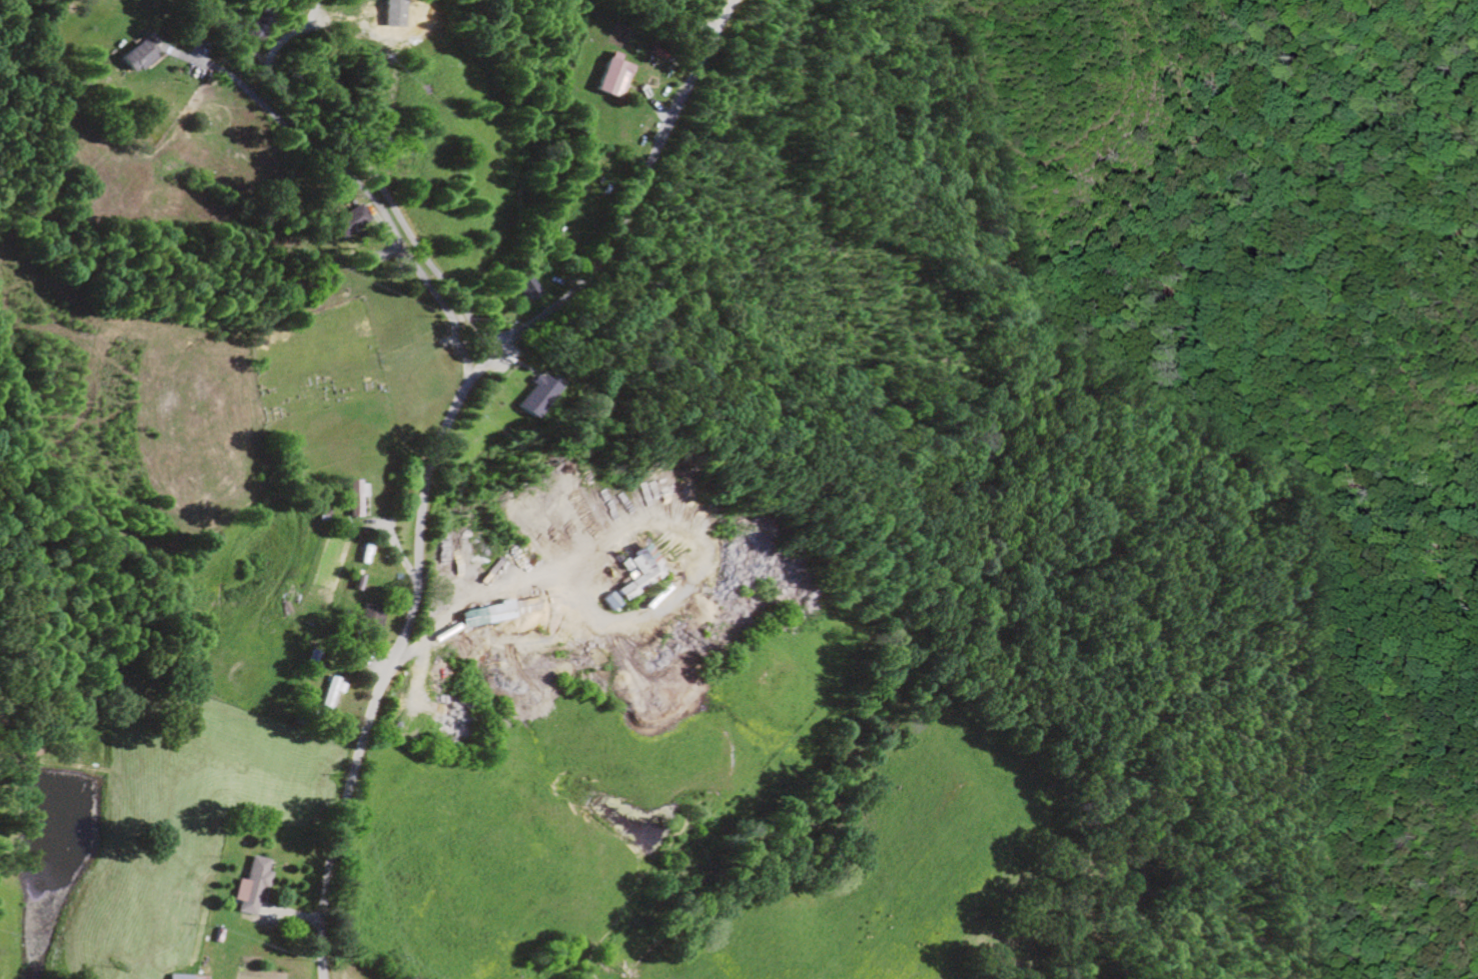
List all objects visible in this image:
building: (390, 15)
building: (136, 56)
building: (611, 76)
road: (389, 206)
building: (348, 222)
building: (524, 288)
building: (527, 397)
road: (432, 448)
building: (353, 498)
building: (632, 572)
building: (605, 602)
building: (491, 613)
building: (366, 619)
building: (329, 695)
building: (248, 888)
building: (182, 977)

